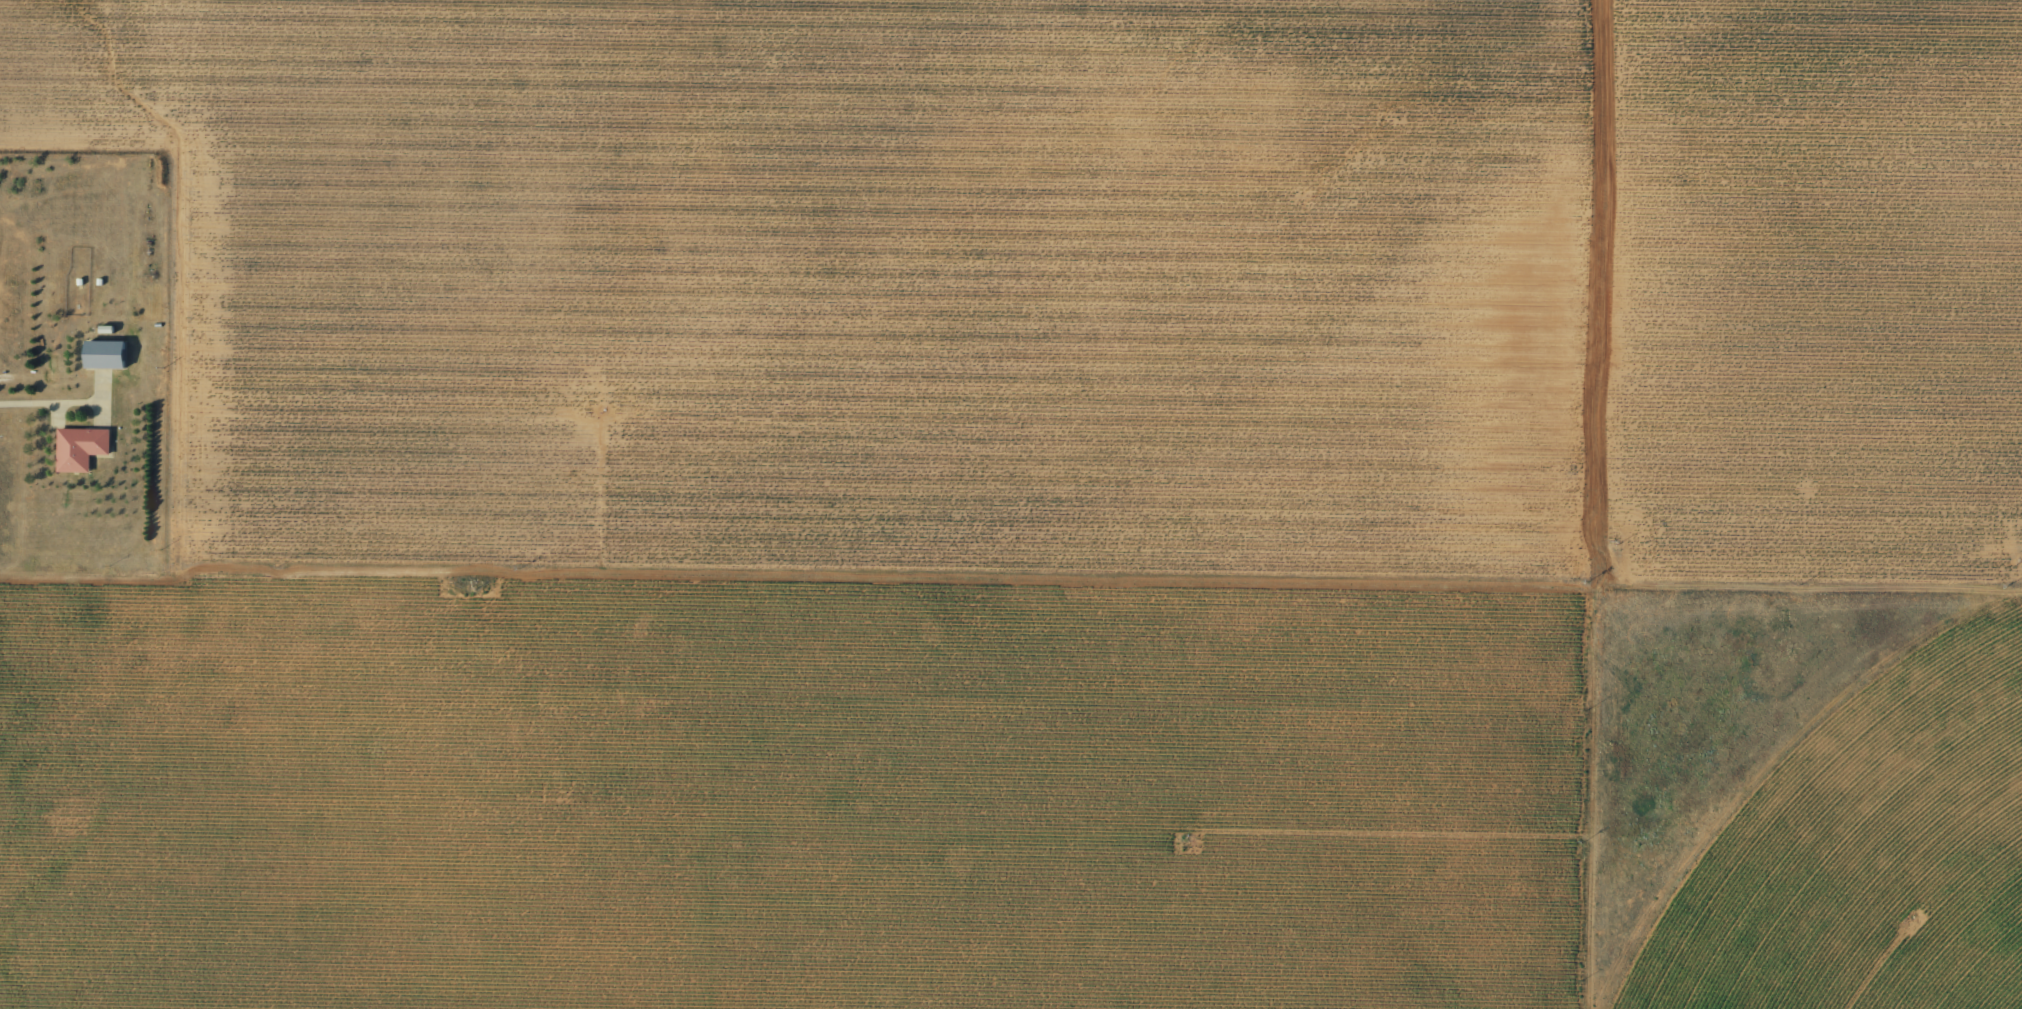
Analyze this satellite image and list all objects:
building: (103, 354)
road: (39, 411)
building: (79, 448)
road: (1609, 504)
road: (1011, 566)

